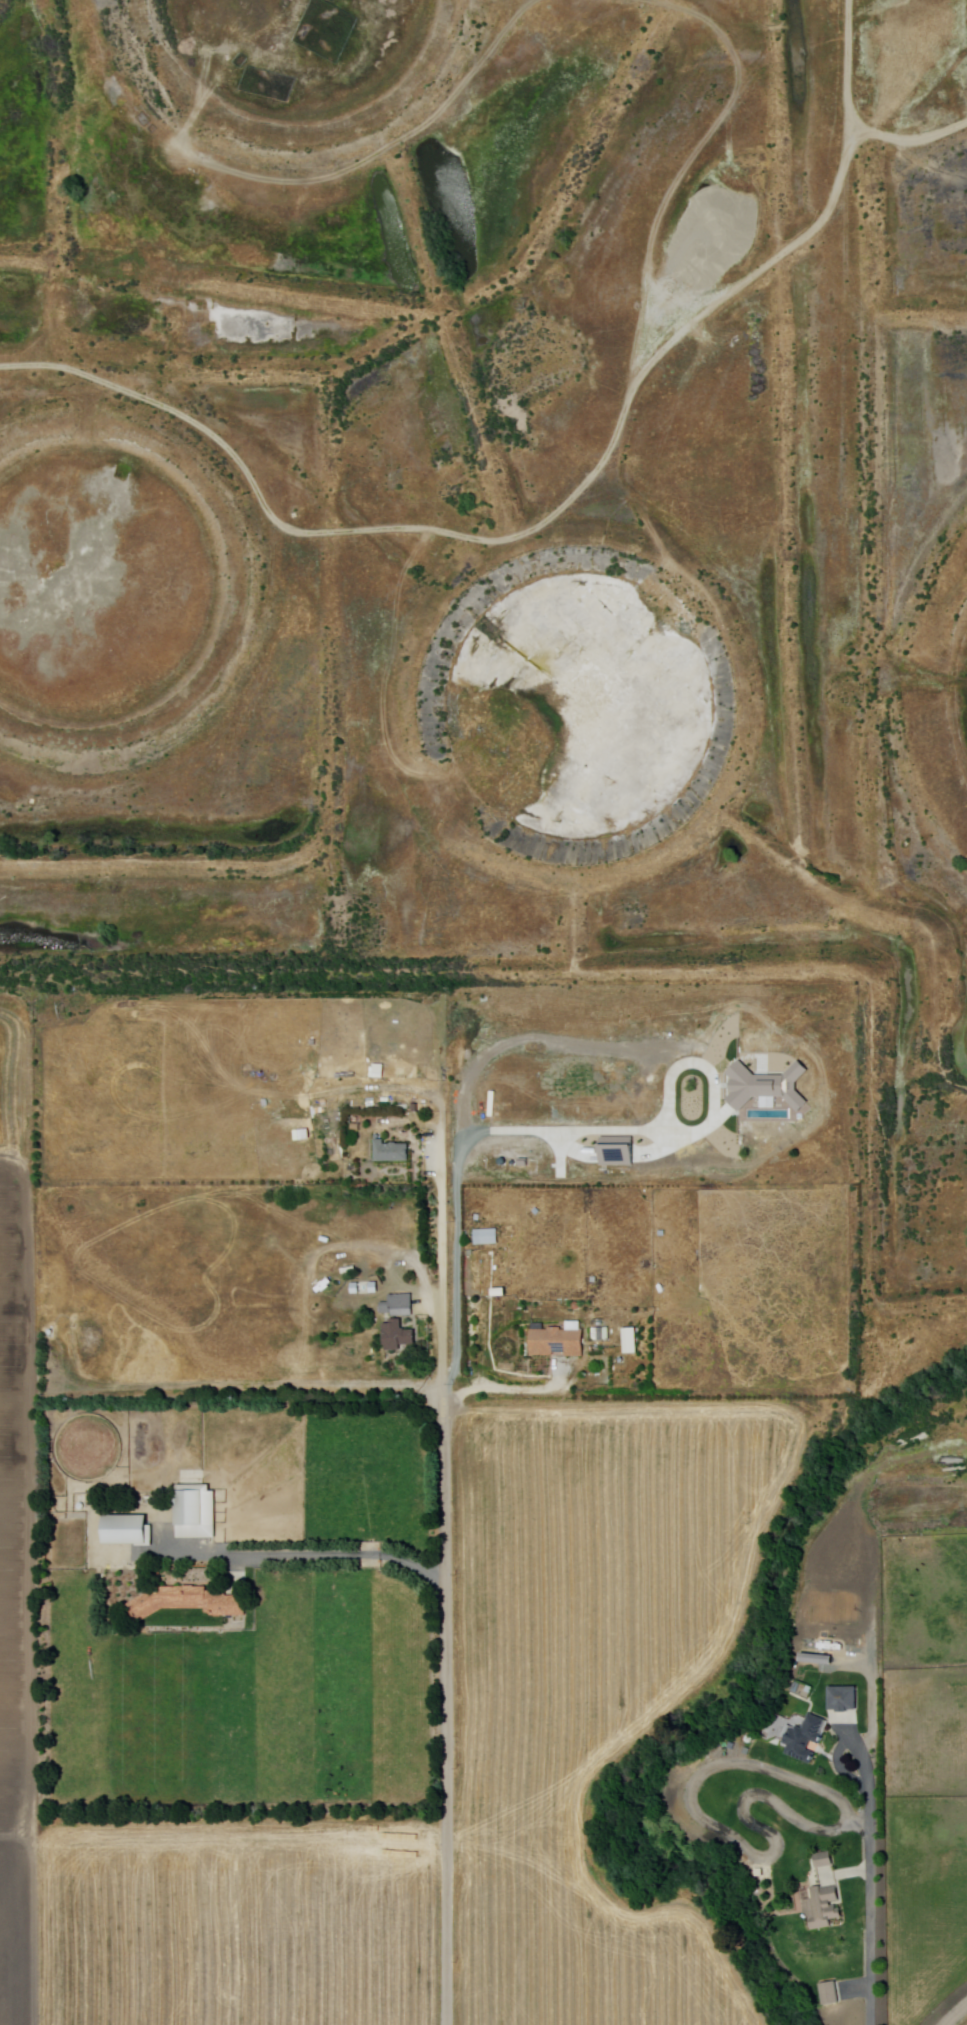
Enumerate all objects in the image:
crop: (14, 1066)
building: (415, 1107)
building: (391, 1153)
building: (486, 1238)
building: (374, 1266)
building: (373, 1287)
building: (398, 1305)
building: (606, 1334)
building: (397, 1335)
building: (557, 1342)
storage tank: (621, 1360)
road: (506, 1389)
building: (80, 1507)
building: (195, 1512)
building: (127, 1530)
road: (313, 1553)
crop: (596, 1575)
road: (446, 1579)
crop: (16, 1600)
building: (186, 1602)
building: (816, 1659)
building: (796, 1688)
building: (809, 1690)
crop: (246, 1697)
building: (843, 1699)
building: (805, 1739)
road: (839, 1765)
crop: (922, 1775)
road: (699, 1815)
road: (833, 1827)
building: (823, 1860)
road: (869, 1869)
building: (822, 1908)
crop: (236, 1922)
crop: (583, 1940)
building: (830, 1994)
road: (955, 2014)

